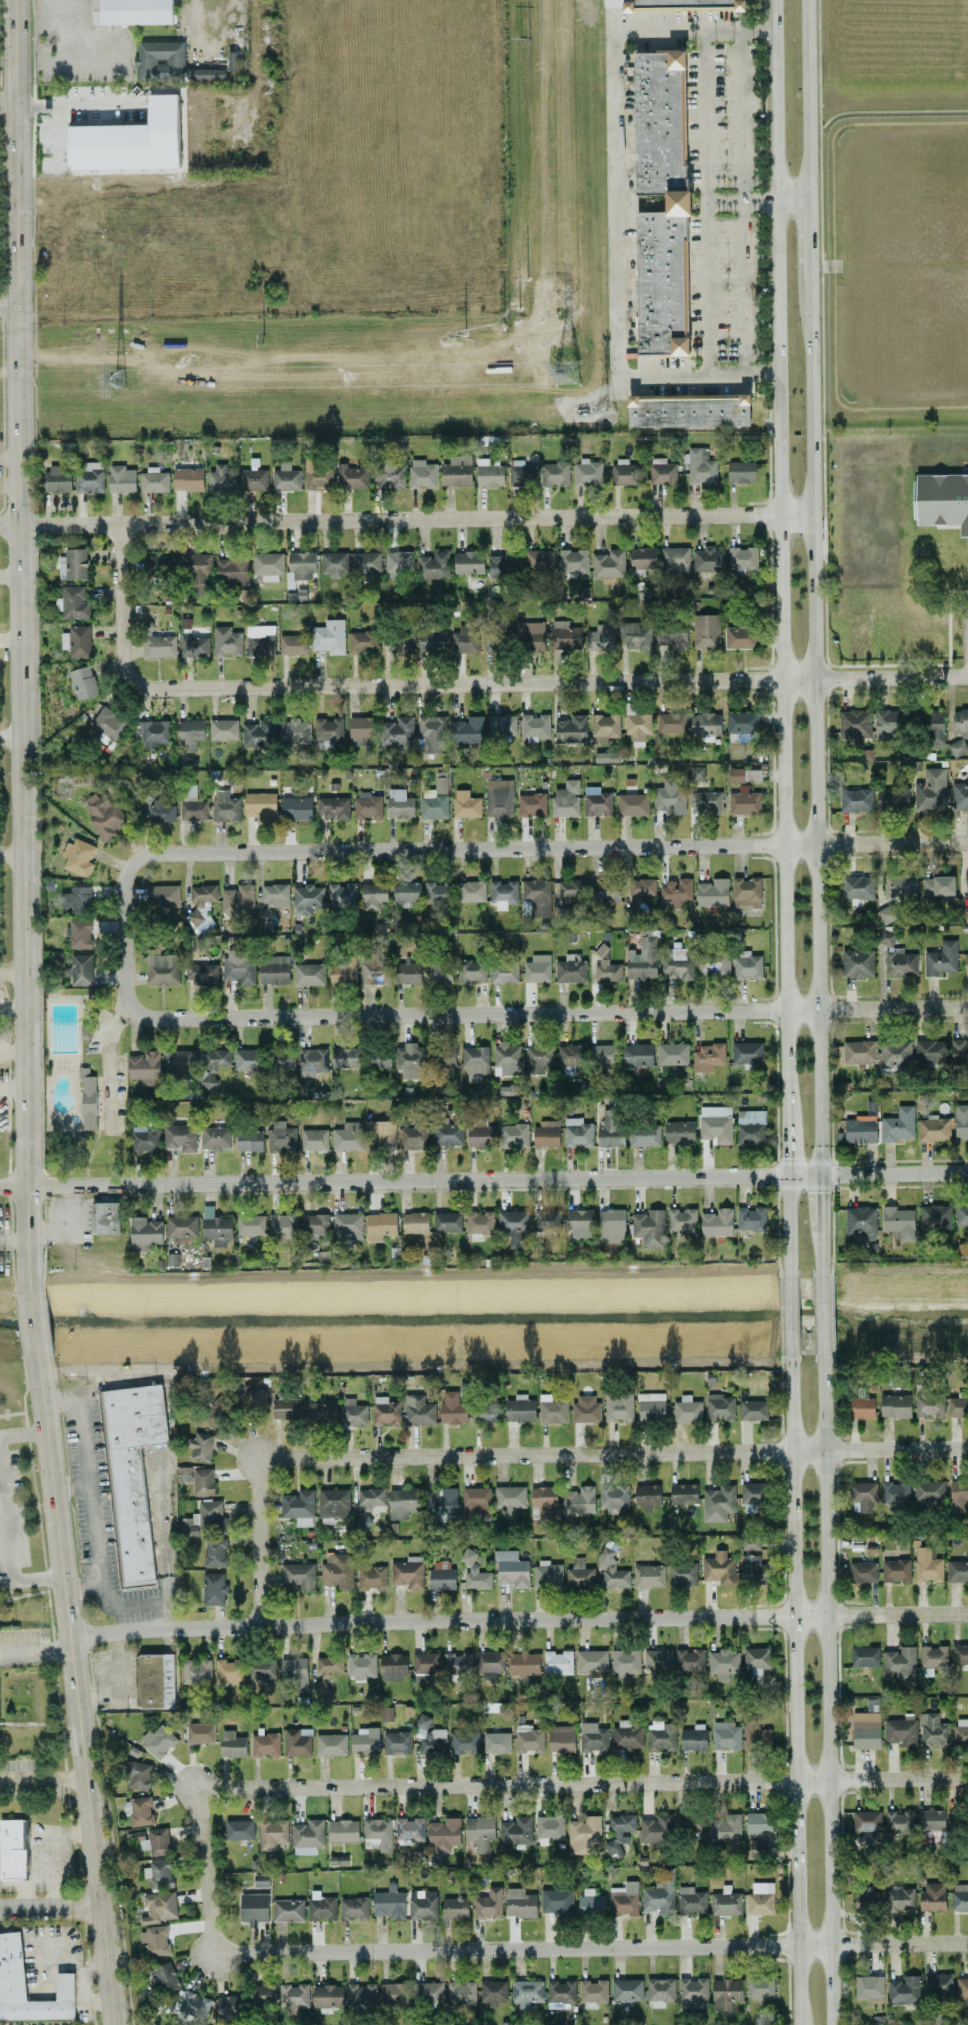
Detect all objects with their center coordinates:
building: (683, 5)
building: (133, 12)
road: (55, 16)
power tower: (522, 38)
building: (160, 60)
building: (232, 60)
building: (205, 73)
road: (700, 78)
road: (808, 100)
road: (78, 104)
road: (8, 106)
road: (890, 111)
building: (111, 144)
road: (614, 160)
road: (740, 201)
road: (793, 201)
road: (810, 240)
road: (831, 265)
road: (705, 297)
road: (9, 308)
power tower: (526, 333)
power tower: (262, 341)
road: (822, 343)
power tower: (567, 371)
road: (743, 375)
power tower: (117, 380)
road: (583, 399)
power tower: (607, 409)
building: (689, 411)
building: (701, 467)
building: (457, 471)
building: (662, 471)
building: (741, 471)
building: (489, 472)
building: (387, 473)
building: (588, 473)
building: (624, 473)
building: (318, 474)
building: (422, 474)
building: (522, 474)
building: (555, 474)
building: (90, 477)
building: (286, 477)
building: (352, 477)
building: (221, 478)
building: (57, 479)
building: (121, 479)
building: (188, 479)
building: (254, 480)
building: (153, 481)
building: (943, 500)
road: (797, 513)
road: (390, 519)
road: (800, 529)
road: (822, 530)
building: (742, 559)
building: (573, 560)
building: (642, 560)
building: (675, 560)
building: (709, 560)
road: (781, 560)
building: (539, 561)
building: (469, 562)
building: (73, 563)
building: (268, 563)
building: (333, 563)
building: (398, 563)
building: (504, 564)
building: (609, 564)
building: (159, 565)
building: (302, 565)
building: (364, 565)
building: (434, 566)
building: (232, 571)
building: (199, 573)
building: (74, 603)
building: (185, 623)
building: (706, 631)
building: (531, 635)
building: (565, 636)
building: (632, 636)
building: (329, 637)
building: (431, 637)
building: (465, 637)
building: (601, 637)
building: (741, 637)
building: (497, 639)
building: (672, 639)
building: (260, 640)
building: (76, 641)
building: (226, 641)
building: (399, 641)
building: (361, 642)
road: (21, 645)
building: (293, 645)
building: (159, 646)
building: (195, 646)
road: (828, 671)
building: (83, 682)
road: (472, 683)
building: (108, 723)
building: (671, 723)
building: (960, 723)
building: (705, 724)
building: (886, 724)
building: (535, 725)
building: (605, 725)
building: (854, 725)
building: (741, 726)
road: (813, 726)
building: (931, 726)
building: (501, 727)
building: (638, 727)
building: (223, 729)
building: (328, 729)
building: (361, 729)
building: (571, 729)
building: (468, 730)
building: (294, 731)
building: (397, 731)
building: (153, 733)
building: (190, 733)
building: (259, 733)
building: (433, 733)
road: (11, 738)
building: (605, 757)
building: (696, 773)
building: (744, 775)
building: (931, 790)
building: (669, 796)
building: (959, 796)
building: (893, 797)
building: (499, 798)
building: (435, 799)
building: (566, 799)
building: (856, 800)
building: (597, 801)
building: (705, 801)
building: (744, 801)
building: (632, 802)
building: (400, 804)
building: (465, 804)
building: (532, 804)
building: (261, 805)
building: (225, 806)
building: (368, 806)
building: (193, 807)
building: (333, 807)
building: (296, 808)
building: (160, 811)
building: (103, 815)
road: (525, 849)
road: (12, 856)
building: (79, 857)
building: (938, 885)
building: (899, 886)
building: (857, 887)
building: (641, 889)
building: (570, 890)
building: (406, 891)
building: (472, 891)
building: (606, 891)
building: (676, 891)
building: (713, 892)
building: (746, 892)
building: (439, 893)
building: (503, 893)
building: (373, 895)
building: (163, 896)
building: (342, 897)
building: (535, 898)
building: (77, 899)
building: (307, 899)
building: (238, 900)
building: (273, 900)
building: (201, 906)
building: (964, 913)
building: (887, 914)
building: (80, 934)
building: (886, 937)
building: (643, 958)
building: (941, 958)
building: (966, 961)
building: (713, 963)
building: (857, 963)
building: (676, 964)
building: (901, 964)
building: (747, 965)
building: (238, 967)
building: (374, 967)
building: (606, 967)
building: (538, 968)
building: (81, 969)
building: (162, 969)
building: (274, 969)
building: (571, 969)
building: (344, 971)
building: (408, 971)
building: (472, 971)
building: (439, 972)
building: (505, 972)
road: (12, 973)
building: (202, 974)
building: (309, 974)
road: (501, 1013)
building: (959, 1051)
building: (747, 1052)
building: (859, 1052)
building: (931, 1052)
building: (603, 1054)
building: (672, 1054)
building: (895, 1054)
building: (571, 1055)
building: (637, 1055)
building: (708, 1056)
building: (345, 1057)
building: (377, 1058)
building: (442, 1058)
building: (538, 1058)
building: (248, 1059)
building: (279, 1059)
building: (313, 1059)
building: (506, 1059)
building: (179, 1060)
building: (475, 1060)
building: (410, 1061)
building: (213, 1065)
building: (144, 1067)
building: (88, 1100)
building: (746, 1117)
building: (961, 1122)
building: (716, 1124)
building: (899, 1125)
building: (610, 1128)
building: (934, 1128)
building: (860, 1129)
building: (679, 1132)
building: (481, 1133)
building: (577, 1133)
building: (546, 1134)
building: (750, 1134)
building: (381, 1135)
building: (513, 1135)
building: (644, 1135)
building: (348, 1136)
building: (179, 1137)
building: (281, 1137)
building: (216, 1138)
building: (414, 1138)
building: (145, 1139)
building: (314, 1139)
building: (249, 1141)
road: (786, 1148)
road: (484, 1179)
road: (819, 1200)
building: (961, 1214)
building: (105, 1218)
building: (935, 1218)
building: (751, 1219)
building: (682, 1220)
building: (547, 1221)
building: (415, 1222)
building: (447, 1222)
building: (479, 1222)
building: (861, 1222)
building: (579, 1223)
building: (717, 1223)
building: (899, 1223)
building: (250, 1224)
building: (315, 1224)
building: (283, 1225)
building: (611, 1225)
building: (347, 1226)
building: (380, 1226)
building: (514, 1226)
road: (787, 1226)
building: (216, 1227)
building: (181, 1228)
building: (649, 1228)
building: (144, 1233)
road: (821, 1251)
building: (172, 1259)
road: (787, 1317)
road: (821, 1317)
road: (33, 1325)
building: (252, 1398)
building: (895, 1405)
building: (929, 1405)
building: (618, 1406)
building: (651, 1406)
building: (957, 1406)
building: (720, 1407)
building: (286, 1408)
building: (452, 1408)
building: (862, 1408)
building: (519, 1409)
building: (552, 1409)
building: (586, 1409)
building: (687, 1409)
building: (419, 1410)
building: (753, 1410)
building: (217, 1411)
building: (386, 1412)
road: (23, 1413)
building: (320, 1413)
building: (353, 1413)
building: (485, 1413)
road: (24, 1434)
building: (201, 1447)
road: (530, 1454)
building: (132, 1472)
building: (184, 1473)
road: (86, 1474)
building: (203, 1481)
road: (72, 1488)
building: (929, 1491)
building: (684, 1493)
building: (895, 1493)
building: (647, 1495)
building: (752, 1495)
building: (862, 1495)
building: (959, 1495)
building: (614, 1496)
building: (370, 1498)
building: (509, 1499)
building: (476, 1500)
building: (545, 1500)
building: (579, 1501)
building: (403, 1502)
building: (441, 1502)
building: (334, 1503)
building: (718, 1503)
building: (298, 1507)
park: (16, 1517)
building: (363, 1518)
building: (205, 1520)
building: (751, 1543)
building: (215, 1552)
building: (467, 1557)
building: (927, 1565)
building: (511, 1568)
building: (718, 1568)
building: (611, 1569)
building: (753, 1570)
building: (895, 1570)
building: (338, 1571)
building: (957, 1571)
building: (408, 1572)
building: (863, 1572)
building: (547, 1573)
building: (682, 1573)
building: (580, 1574)
building: (441, 1575)
building: (649, 1575)
building: (297, 1576)
road: (6, 1577)
building: (371, 1578)
building: (477, 1578)
building: (213, 1588)
road: (33, 1593)
road: (114, 1604)
road: (520, 1622)
road: (37, 1651)
building: (959, 1654)
building: (864, 1656)
building: (934, 1657)
building: (756, 1658)
building: (657, 1659)
building: (689, 1660)
building: (591, 1661)
building: (625, 1661)
building: (558, 1662)
building: (458, 1663)
building: (524, 1663)
building: (490, 1664)
building: (723, 1664)
building: (329, 1665)
building: (361, 1665)
building: (901, 1665)
building: (393, 1666)
building: (425, 1666)
building: (261, 1669)
building: (196, 1671)
building: (229, 1671)
building: (295, 1672)
road: (794, 1676)
building: (154, 1681)
building: (320, 1687)
road: (826, 1690)
road: (79, 1691)
building: (387, 1714)
building: (866, 1730)
building: (900, 1731)
building: (933, 1731)
building: (960, 1732)
building: (200, 1733)
building: (661, 1735)
building: (725, 1735)
building: (430, 1736)
building: (627, 1736)
building: (593, 1737)
building: (756, 1737)
building: (561, 1738)
building: (529, 1739)
building: (693, 1739)
building: (158, 1741)
building: (365, 1741)
building: (297, 1742)
building: (465, 1742)
building: (397, 1743)
building: (497, 1743)
building: (232, 1744)
building: (331, 1744)
building: (265, 1745)
building: (138, 1775)
road: (28, 1780)
road: (73, 1780)
road: (539, 1783)
building: (140, 1811)
building: (866, 1820)
building: (899, 1821)
building: (690, 1823)
building: (759, 1823)
building: (621, 1824)
building: (931, 1826)
building: (549, 1827)
building: (655, 1828)
building: (238, 1829)
building: (725, 1829)
building: (343, 1830)
building: (410, 1830)
building: (516, 1831)
building: (480, 1832)
building: (273, 1834)
building: (378, 1834)
building: (584, 1834)
building: (443, 1835)
building: (307, 1836)
building: (158, 1841)
road: (33, 1842)
building: (12, 1848)
building: (339, 1860)
road: (54, 1870)
building: (160, 1874)
building: (261, 1880)
road: (12, 1886)
building: (660, 1894)
building: (933, 1896)
building: (959, 1897)
building: (624, 1899)
building: (760, 1899)
building: (900, 1899)
building: (691, 1900)
building: (865, 1900)
building: (558, 1902)
building: (591, 1902)
building: (389, 1903)
building: (520, 1903)
building: (726, 1903)
building: (423, 1904)
building: (489, 1904)
building: (321, 1906)
road: (51, 1907)
building: (159, 1907)
building: (254, 1908)
building: (354, 1908)
building: (455, 1908)
building: (288, 1910)
building: (155, 1940)
road: (551, 1947)
building: (163, 1978)
building: (938, 1984)
building: (12, 1986)
building: (760, 1987)
building: (869, 1987)
building: (962, 1988)
building: (627, 1989)
building: (661, 1989)
building: (904, 1990)
building: (493, 1991)
building: (429, 1992)
building: (593, 1992)
building: (394, 1993)
building: (461, 1993)
building: (527, 1993)
building: (693, 1993)
building: (725, 1993)
building: (560, 1994)
building: (263, 1995)
building: (293, 1995)
building: (361, 1995)
building: (327, 1996)
building: (194, 2005)
building: (229, 2006)
road: (798, 2011)

